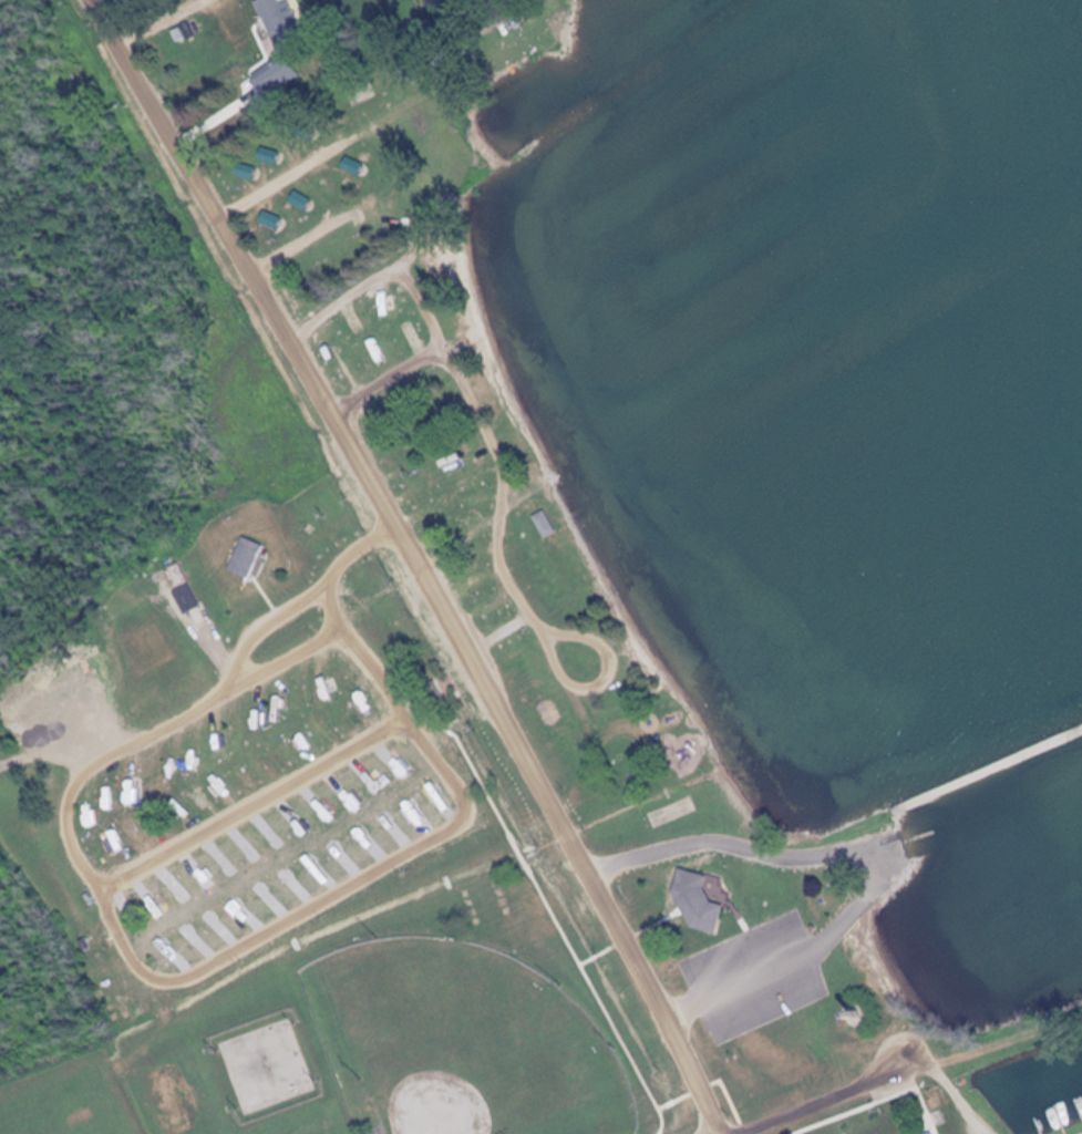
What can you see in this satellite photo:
building: (277, 21)
building: (544, 524)
building: (246, 557)
road: (416, 559)
building: (187, 597)
park: (360, 649)
building: (370, 791)
building: (401, 823)
road: (873, 897)
building: (695, 901)
building: (165, 945)
park: (464, 1044)
road: (834, 1096)
building: (928, 1124)

